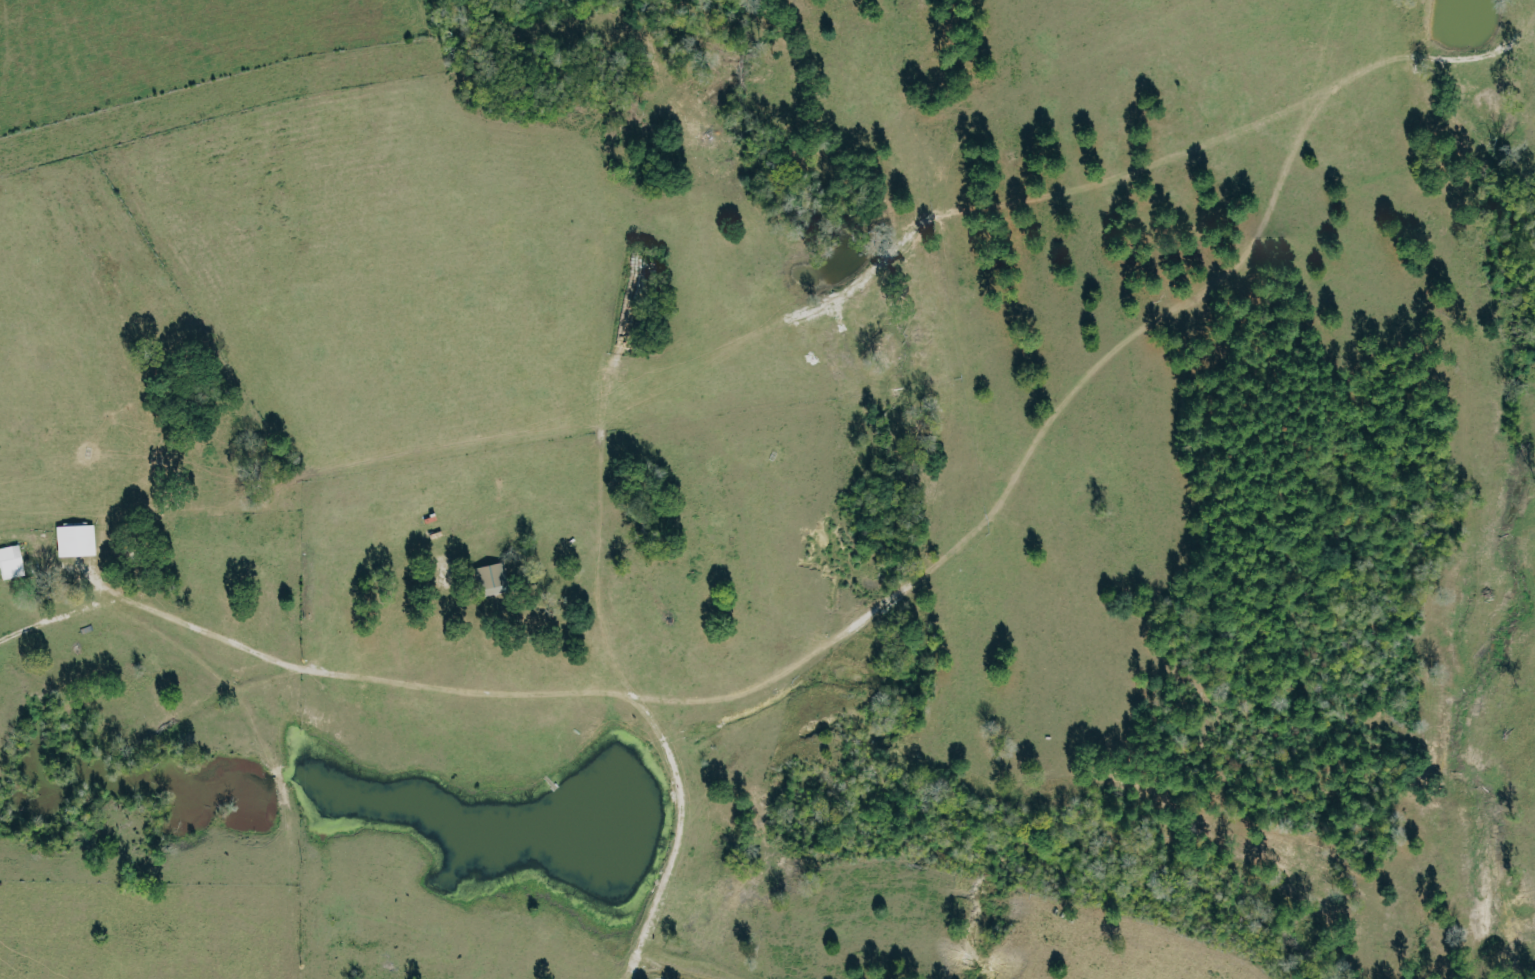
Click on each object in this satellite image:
building: (74, 539)
building: (10, 562)
building: (488, 579)

